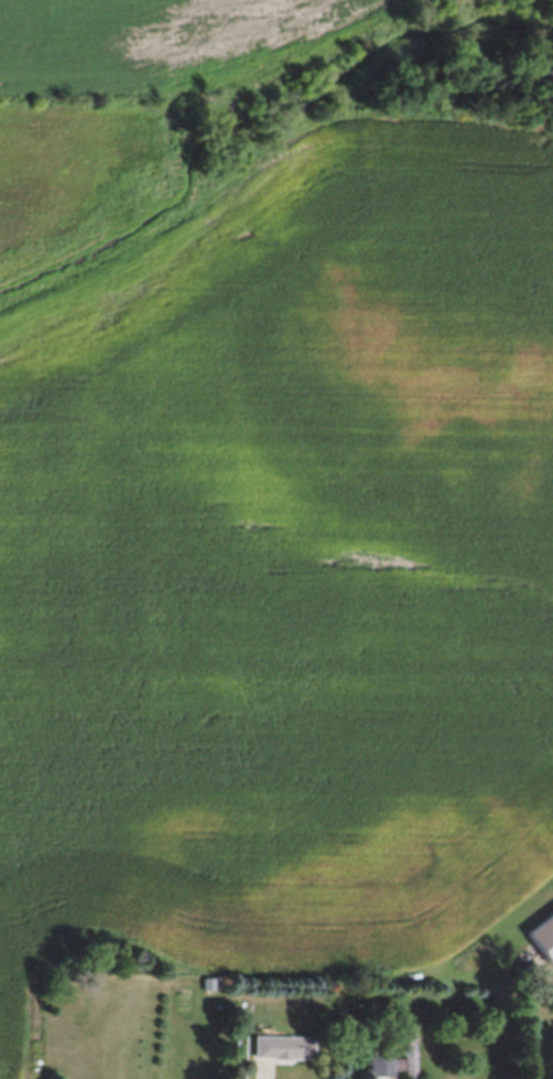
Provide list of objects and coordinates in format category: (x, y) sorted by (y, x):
building: (541, 938)
building: (276, 1046)
building: (389, 1057)

